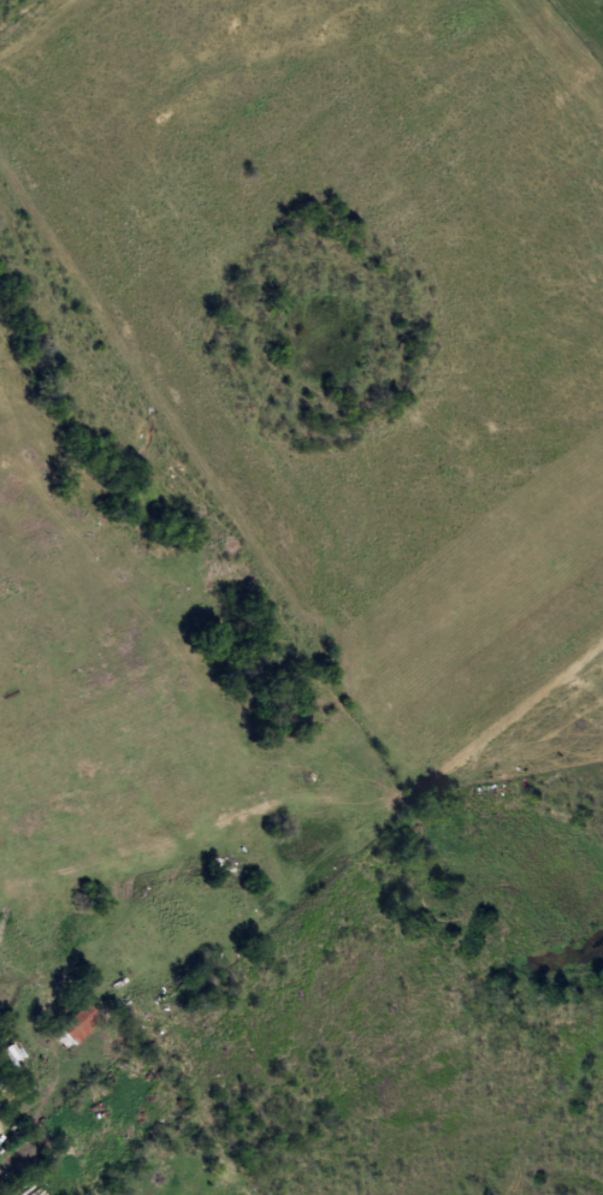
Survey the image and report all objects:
building: (82, 1024)
building: (63, 1039)
building: (17, 1067)

